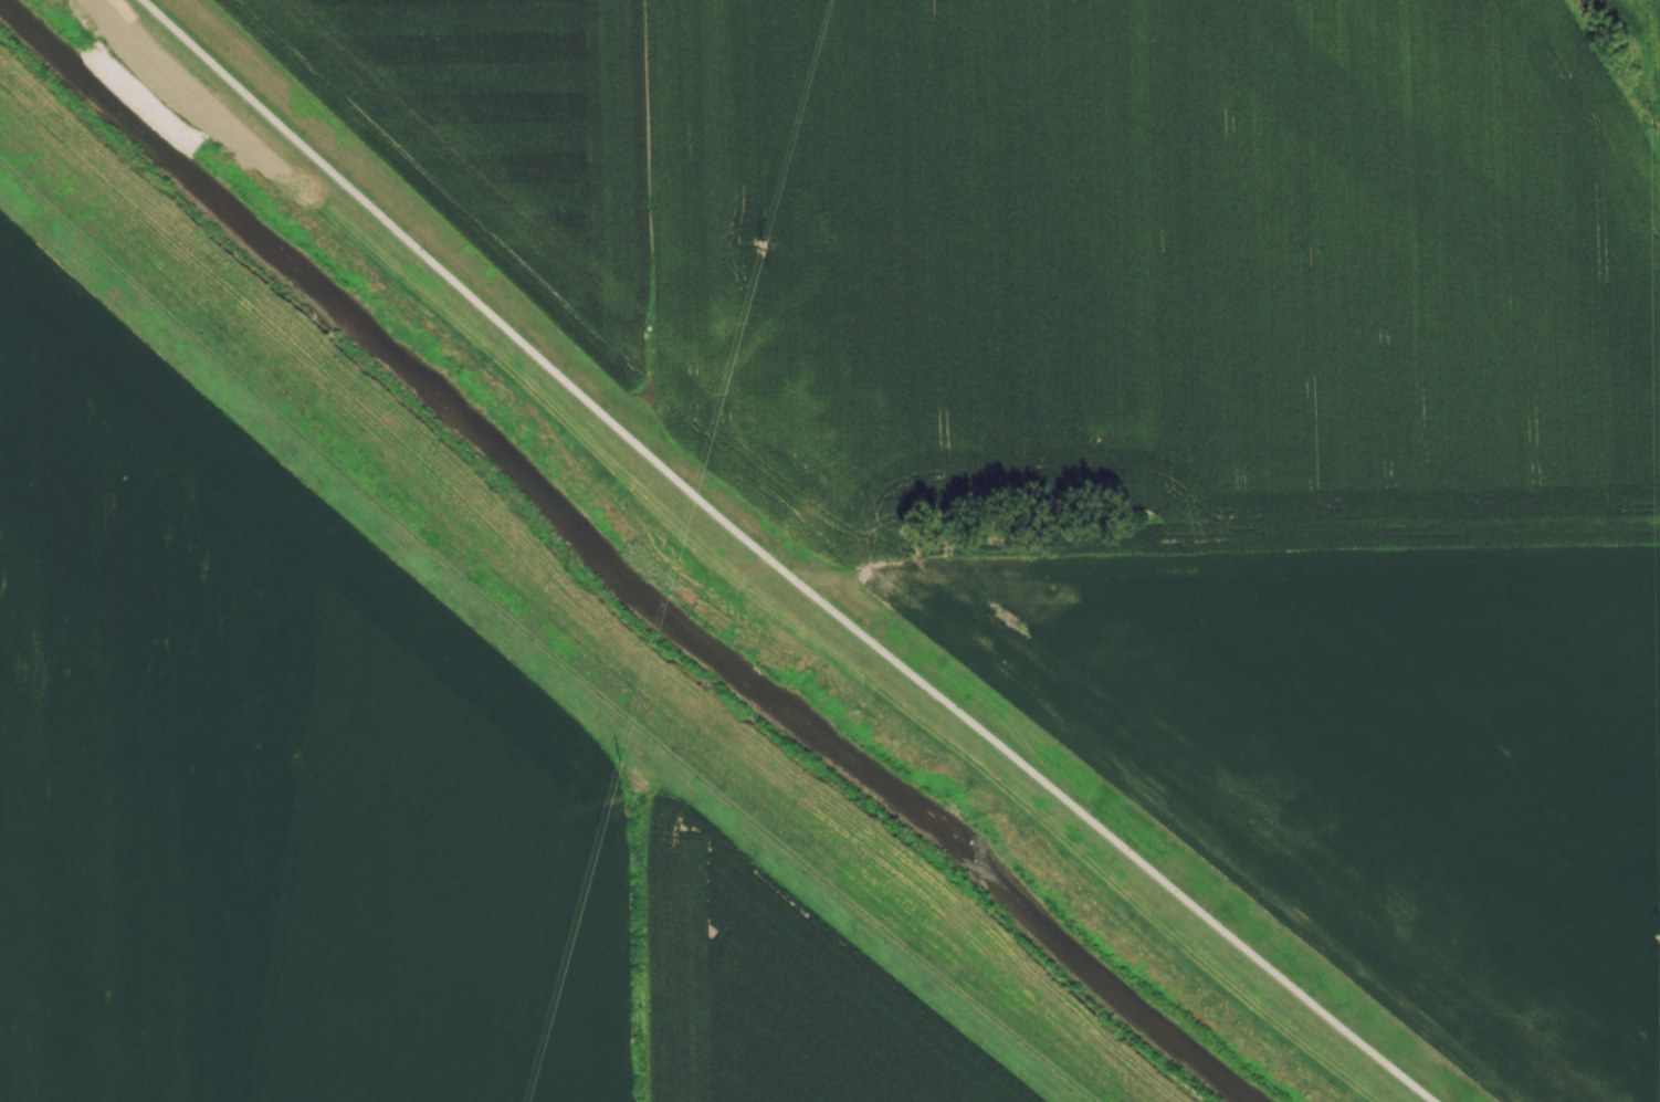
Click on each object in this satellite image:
crop: (511, 127)
crop: (1167, 261)
road: (779, 564)
river: (612, 570)
road: (535, 643)
crop: (344, 807)

